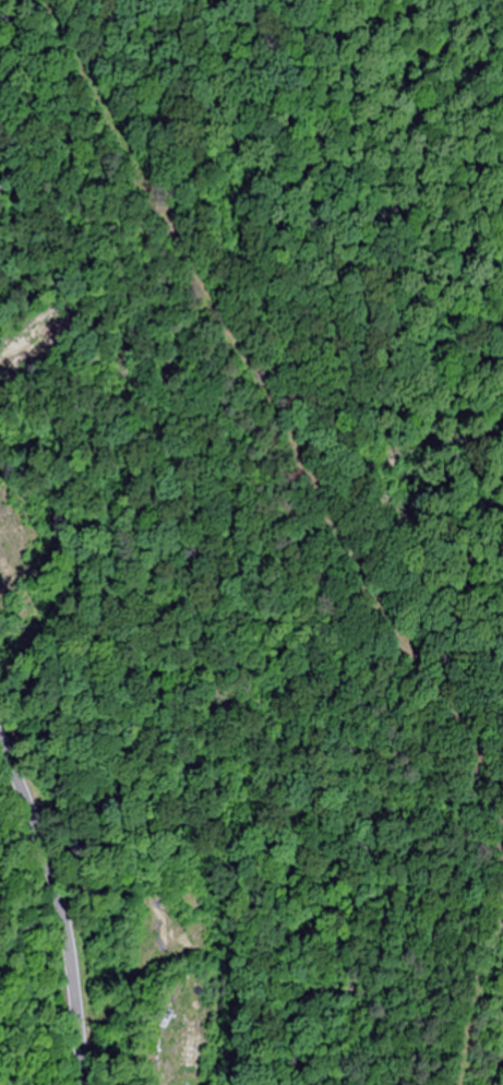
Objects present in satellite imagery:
road: (55, 928)
building: (190, 1044)

